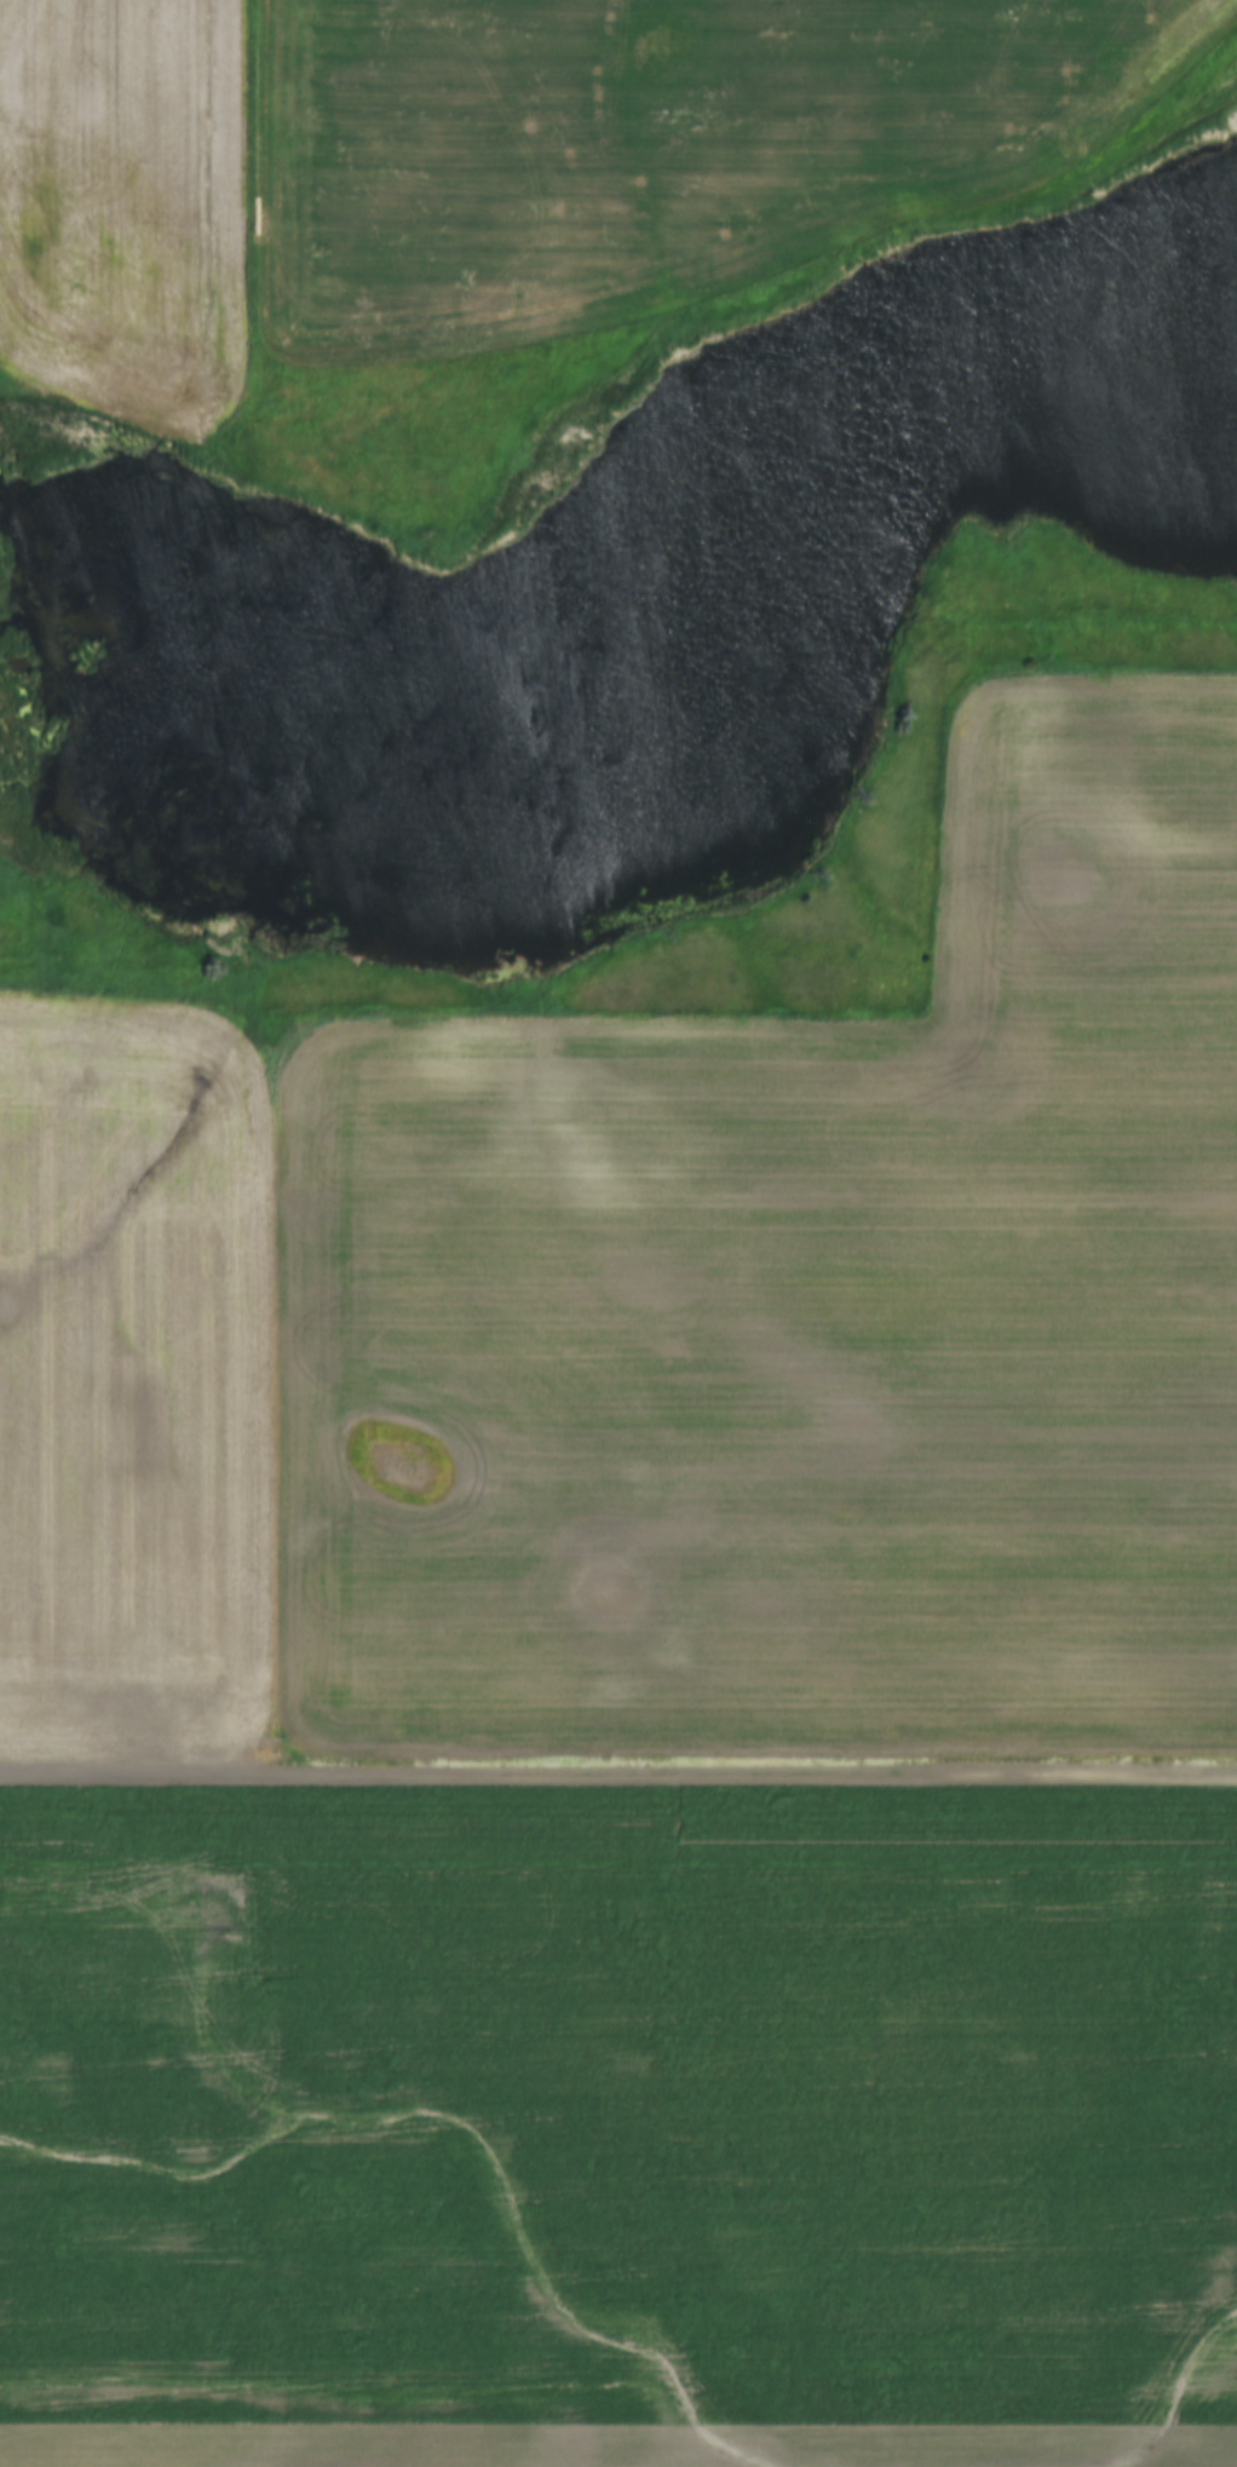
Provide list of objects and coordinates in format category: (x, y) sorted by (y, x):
road: (617, 1770)

